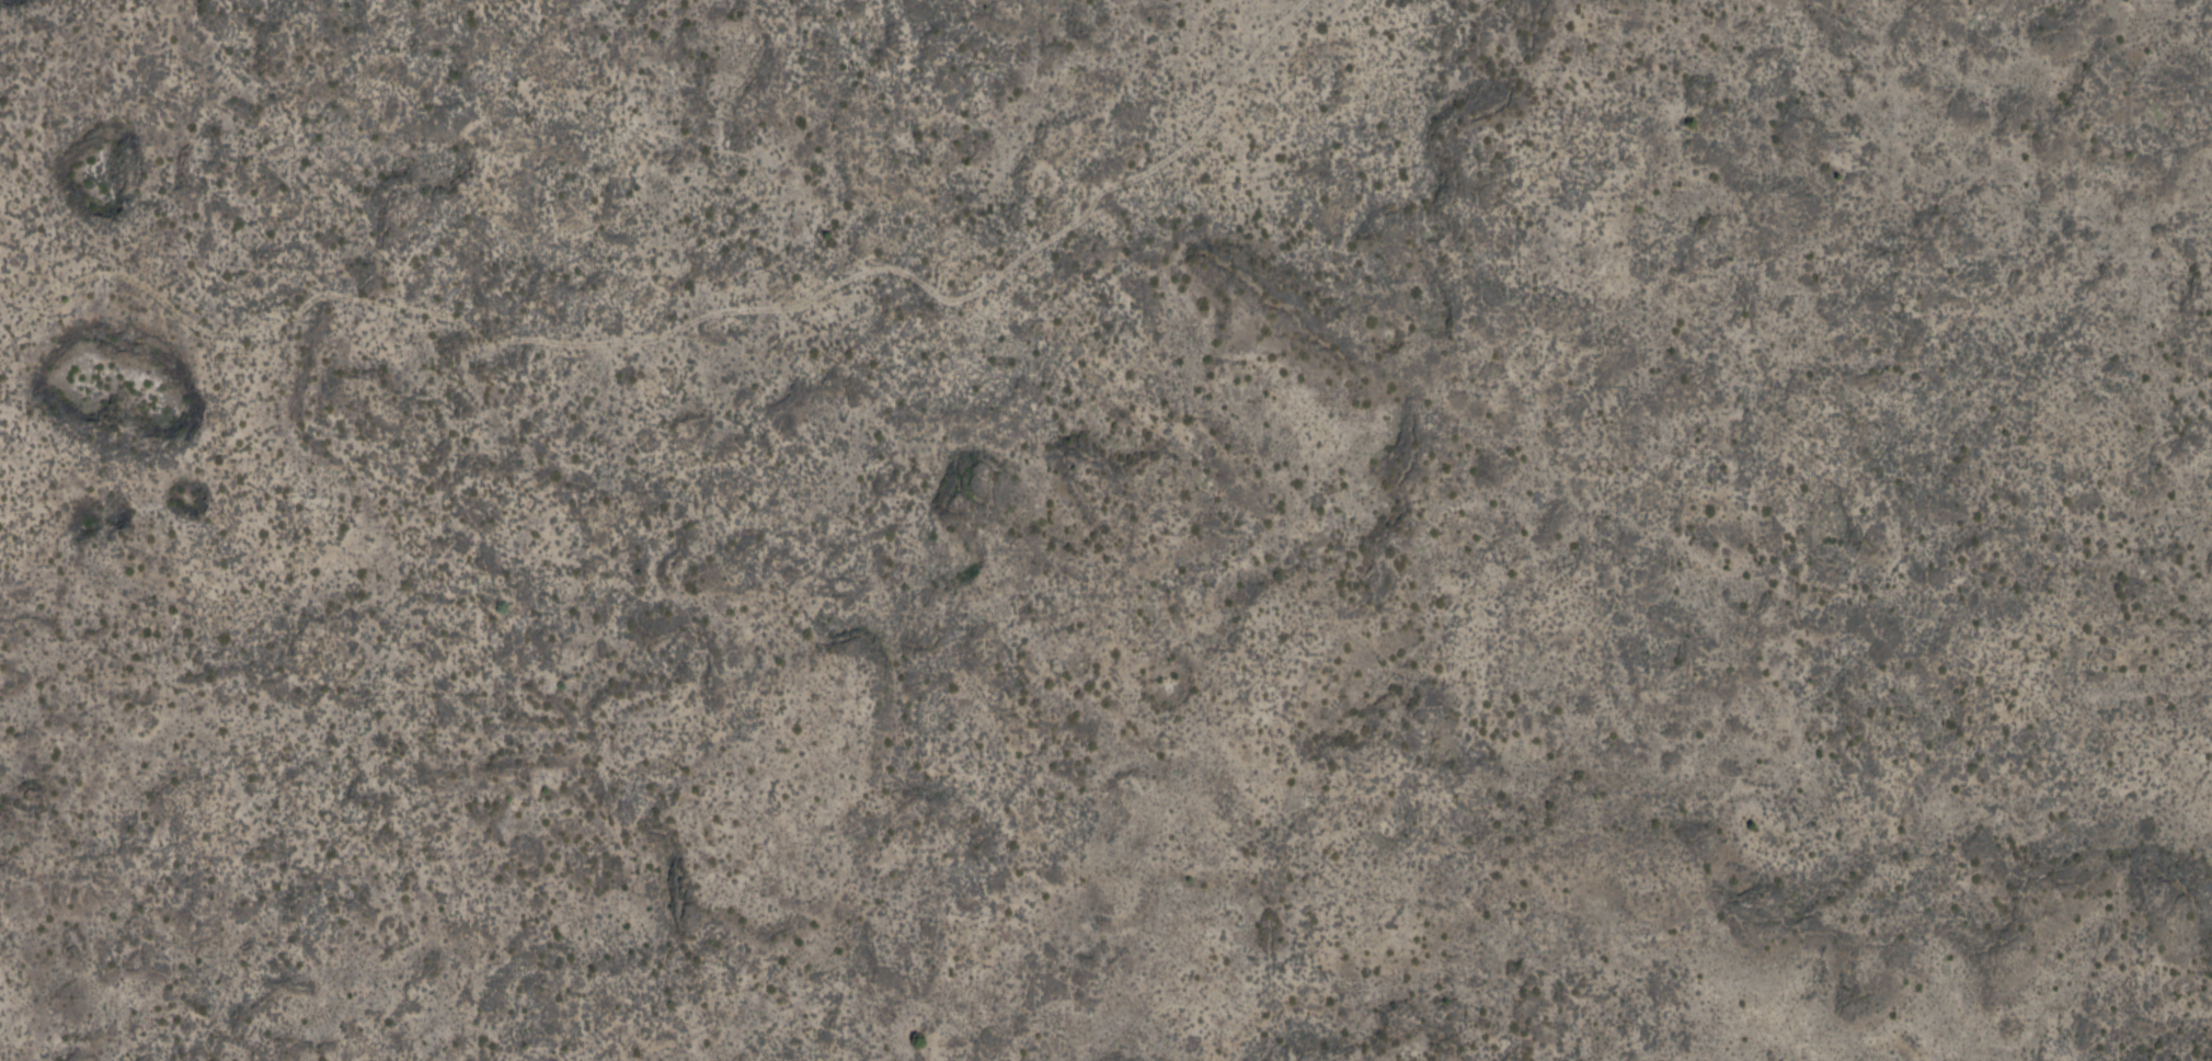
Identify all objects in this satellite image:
road: (925, 289)
road: (207, 329)

